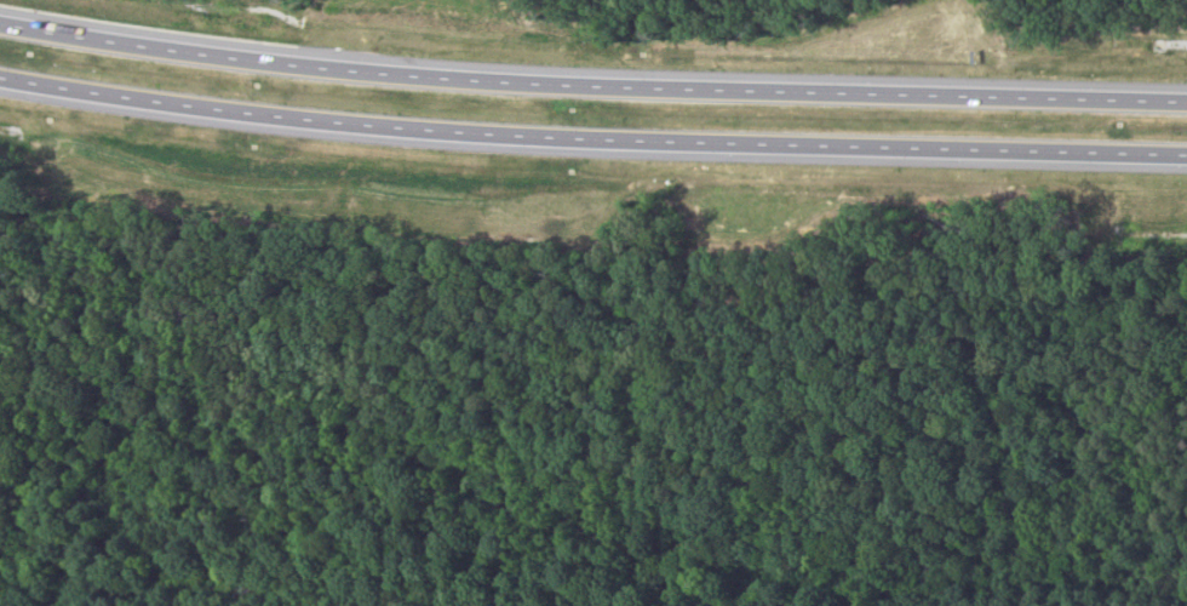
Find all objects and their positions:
road: (591, 78)
road: (591, 131)

